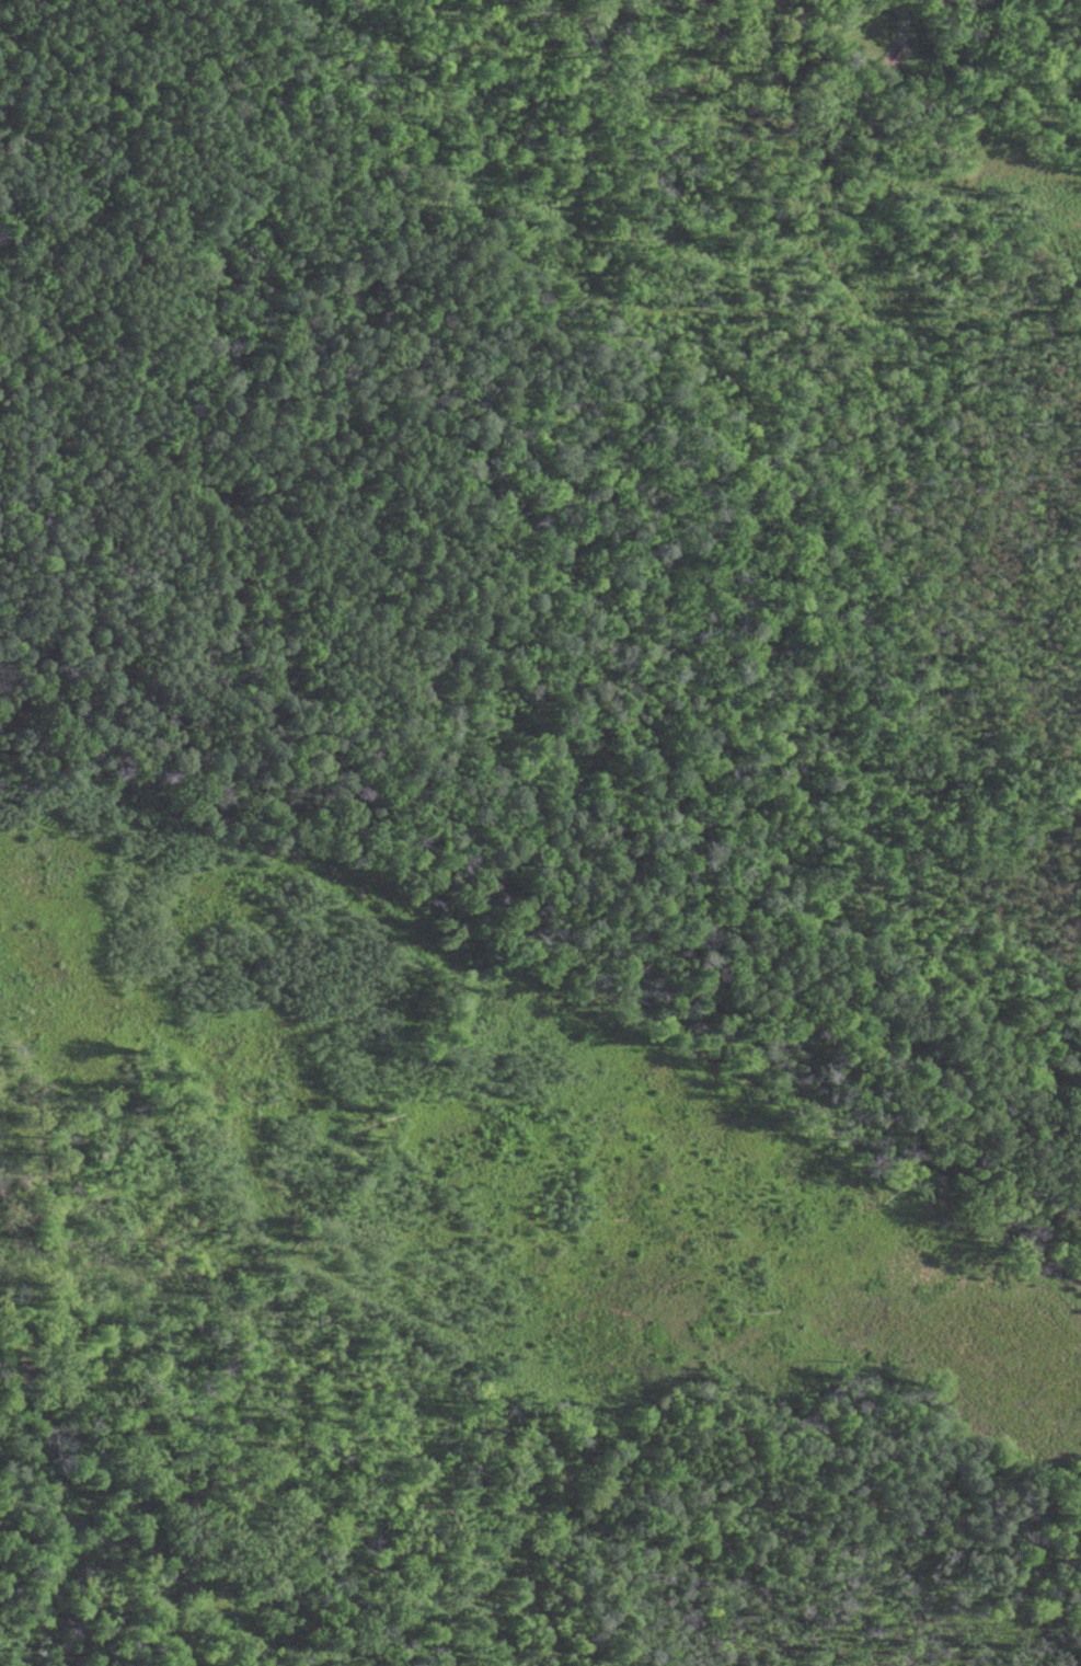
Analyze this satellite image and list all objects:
road: (448, 794)

